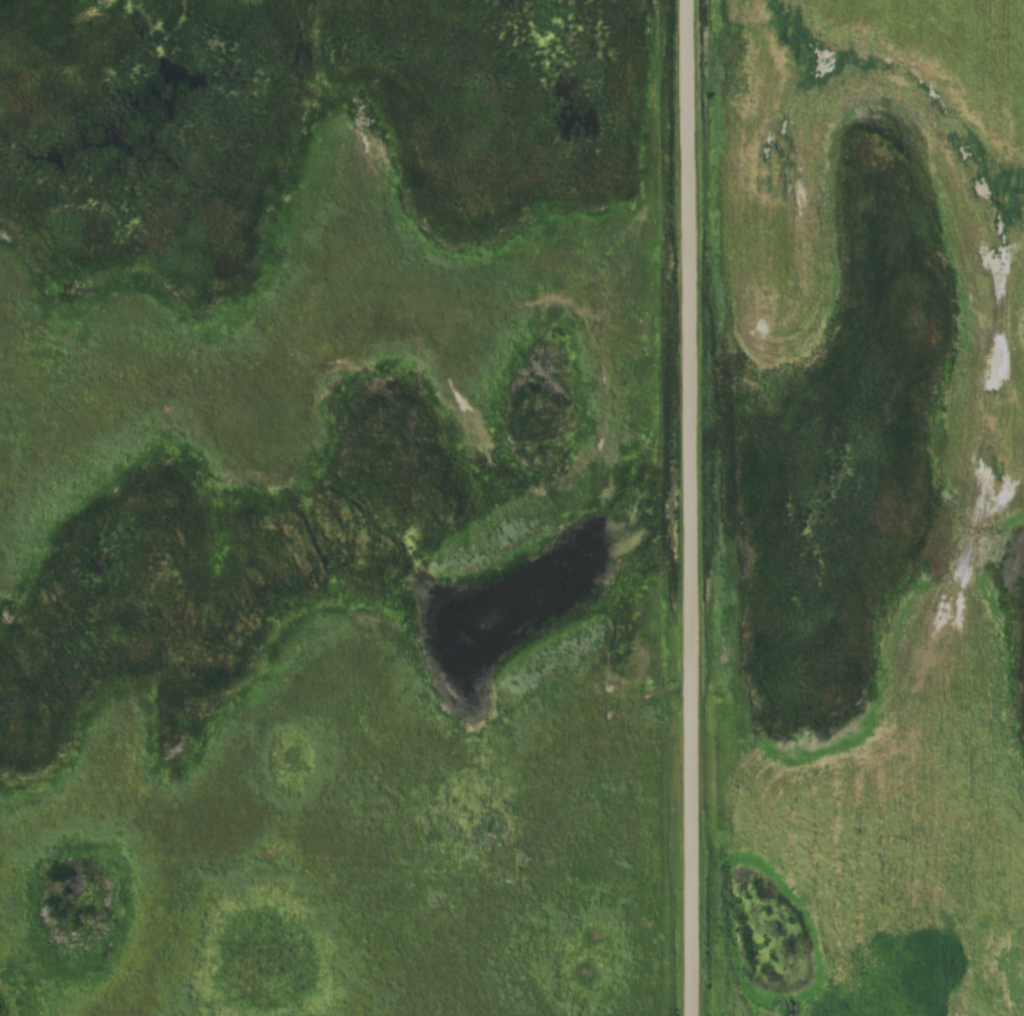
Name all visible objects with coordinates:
road: (685, 508)

